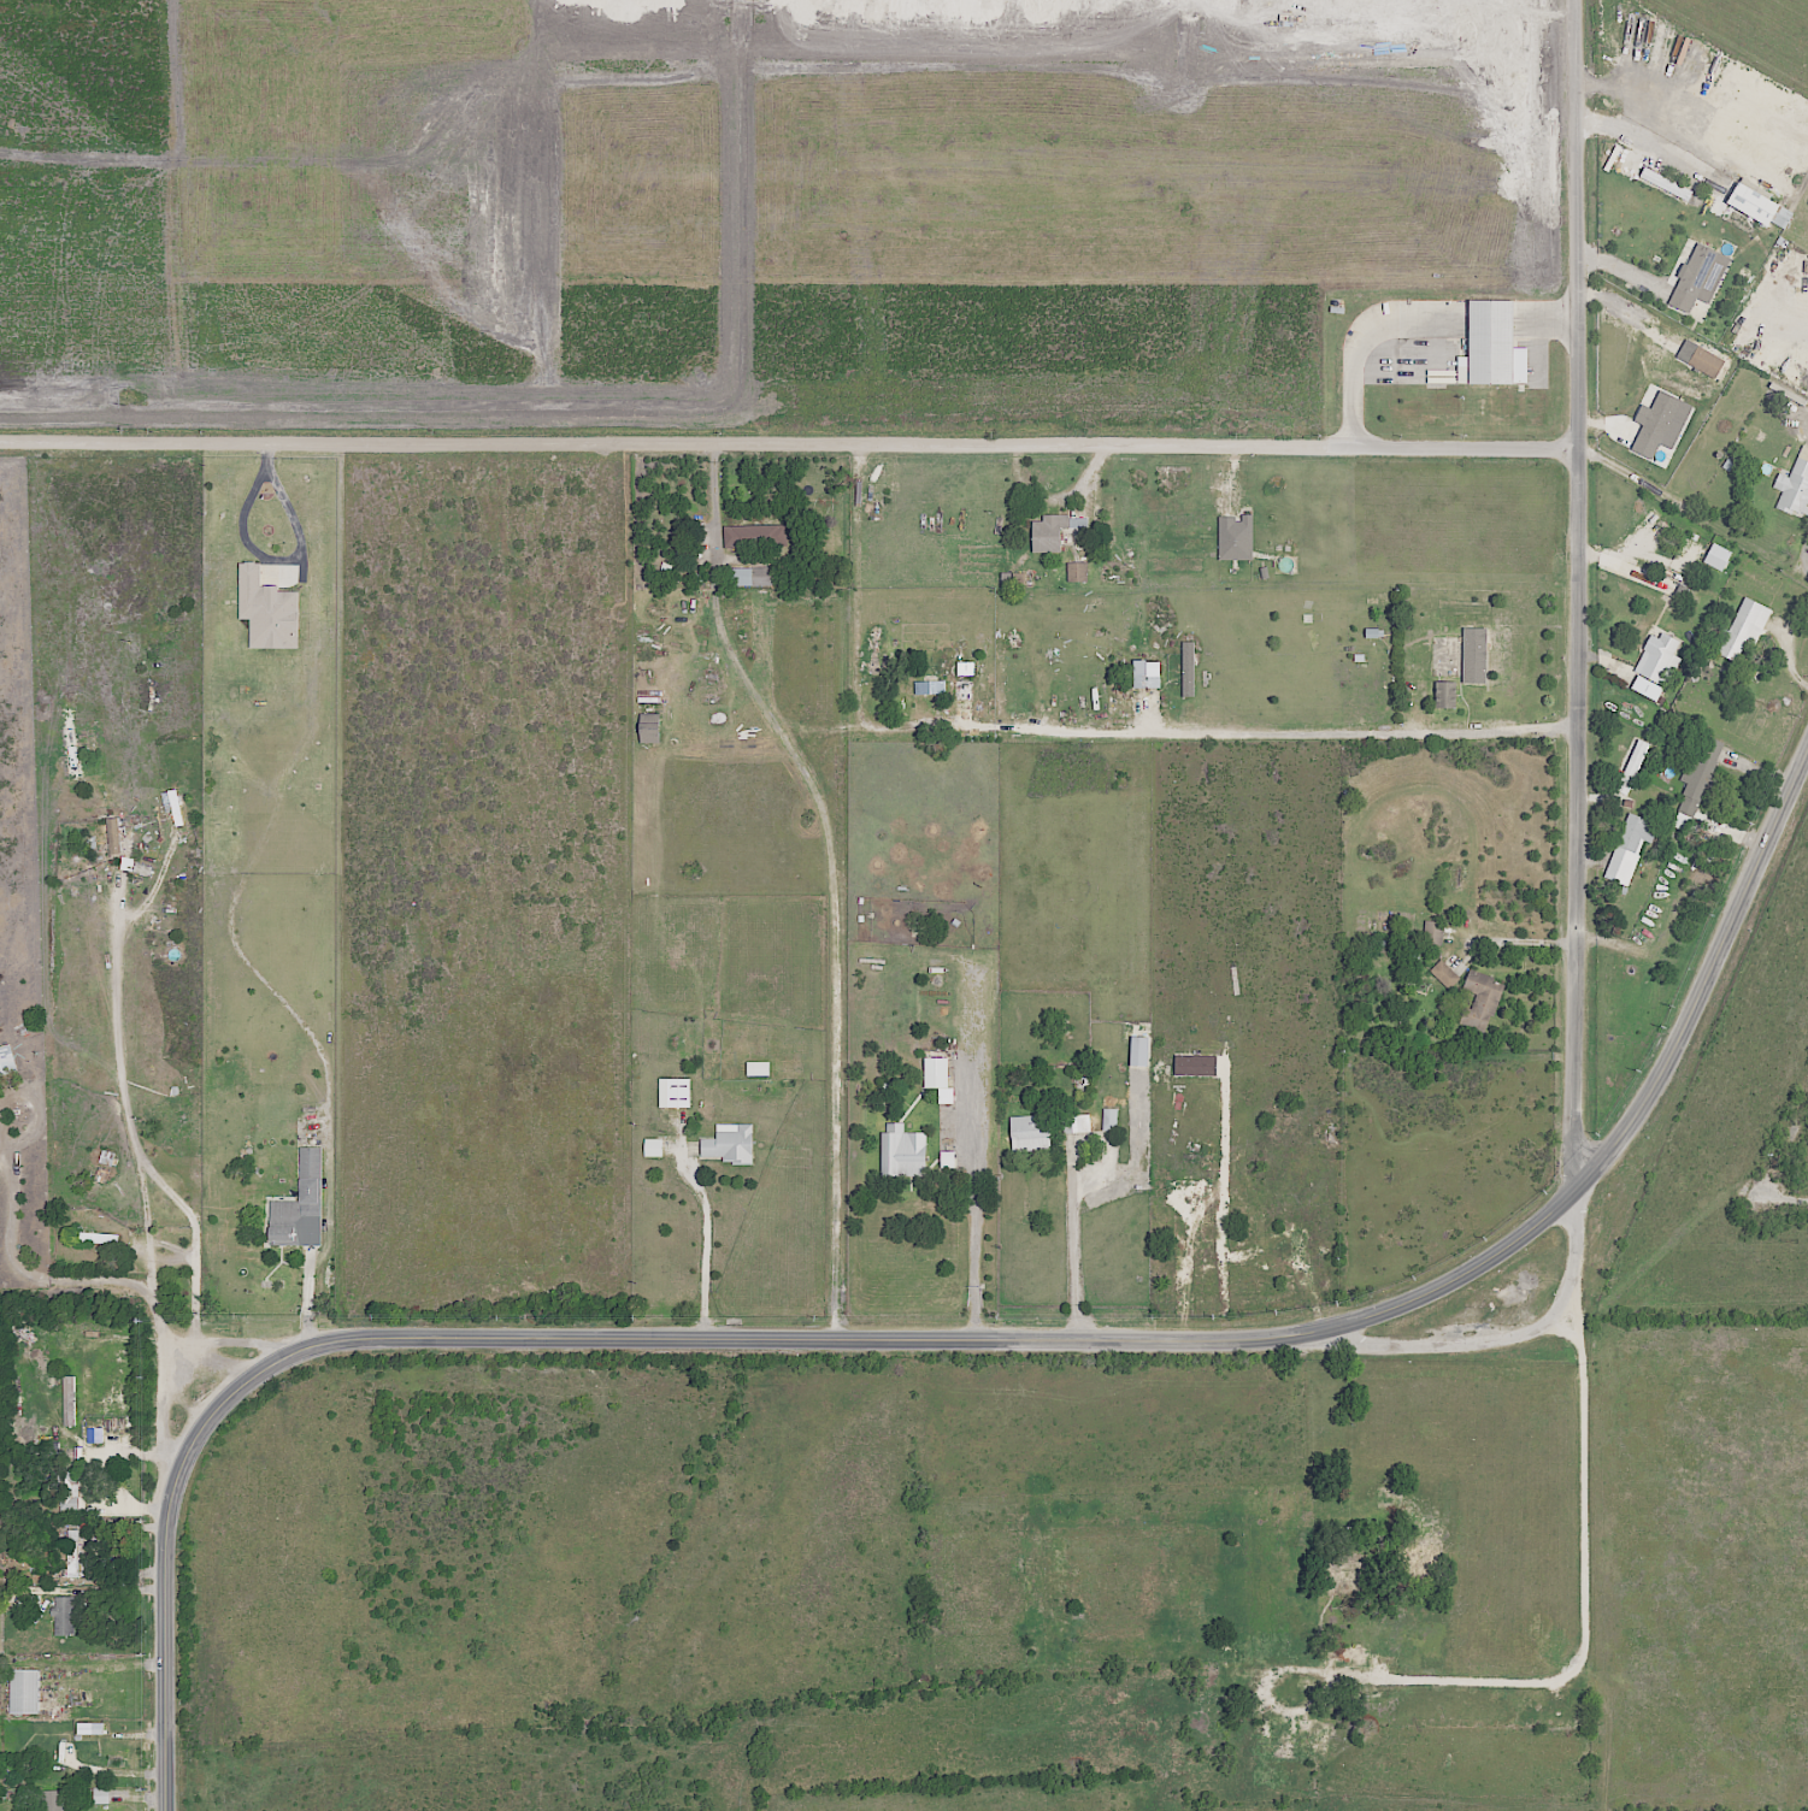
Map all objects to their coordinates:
road: (1178, 7)
road: (737, 8)
road: (1616, 129)
building: (1757, 205)
building: (1698, 278)
road: (1559, 313)
road: (1350, 346)
building: (1491, 347)
building: (1435, 382)
building: (1659, 425)
road: (790, 452)
building: (1795, 488)
building: (1048, 533)
building: (755, 537)
building: (1235, 538)
building: (1716, 558)
road: (1803, 566)
building: (1076, 572)
building: (752, 577)
road: (855, 591)
road: (1578, 598)
building: (267, 610)
building: (1742, 629)
road: (725, 641)
building: (1655, 667)
building: (1186, 669)
building: (1146, 674)
building: (930, 688)
building: (1444, 695)
road: (900, 728)
building: (649, 733)
building: (1631, 767)
building: (1696, 784)
building: (175, 808)
building: (113, 836)
building: (1629, 849)
building: (1432, 933)
road: (1517, 942)
building: (1444, 974)
building: (1480, 1002)
building: (1138, 1051)
building: (6, 1061)
building: (756, 1069)
building: (937, 1078)
road: (120, 1079)
building: (673, 1093)
building: (1108, 1120)
building: (1074, 1125)
building: (1029, 1133)
road: (1783, 1139)
building: (729, 1144)
building: (652, 1148)
building: (902, 1152)
building: (947, 1160)
building: (101, 1175)
road: (1783, 1193)
building: (299, 1208)
road: (973, 1231)
road: (1578, 1240)
road: (705, 1241)
road: (1073, 1253)
road: (130, 1282)
road: (235, 1331)
road: (950, 1341)
building: (69, 1402)
building: (95, 1435)
road: (1082, 1461)
road: (440, 1462)
road: (1754, 1485)
building: (67, 1492)
road: (1579, 1508)
building: (72, 1553)
building: (1419, 1558)
building: (1344, 1573)
road: (530, 1579)
road: (1059, 1580)
building: (64, 1616)
road: (812, 1634)
road: (291, 1652)
building: (1343, 1656)
building: (1226, 1658)
building: (24, 1692)
building: (90, 1729)
building: (1290, 1742)
building: (100, 1795)
building: (52, 1800)

